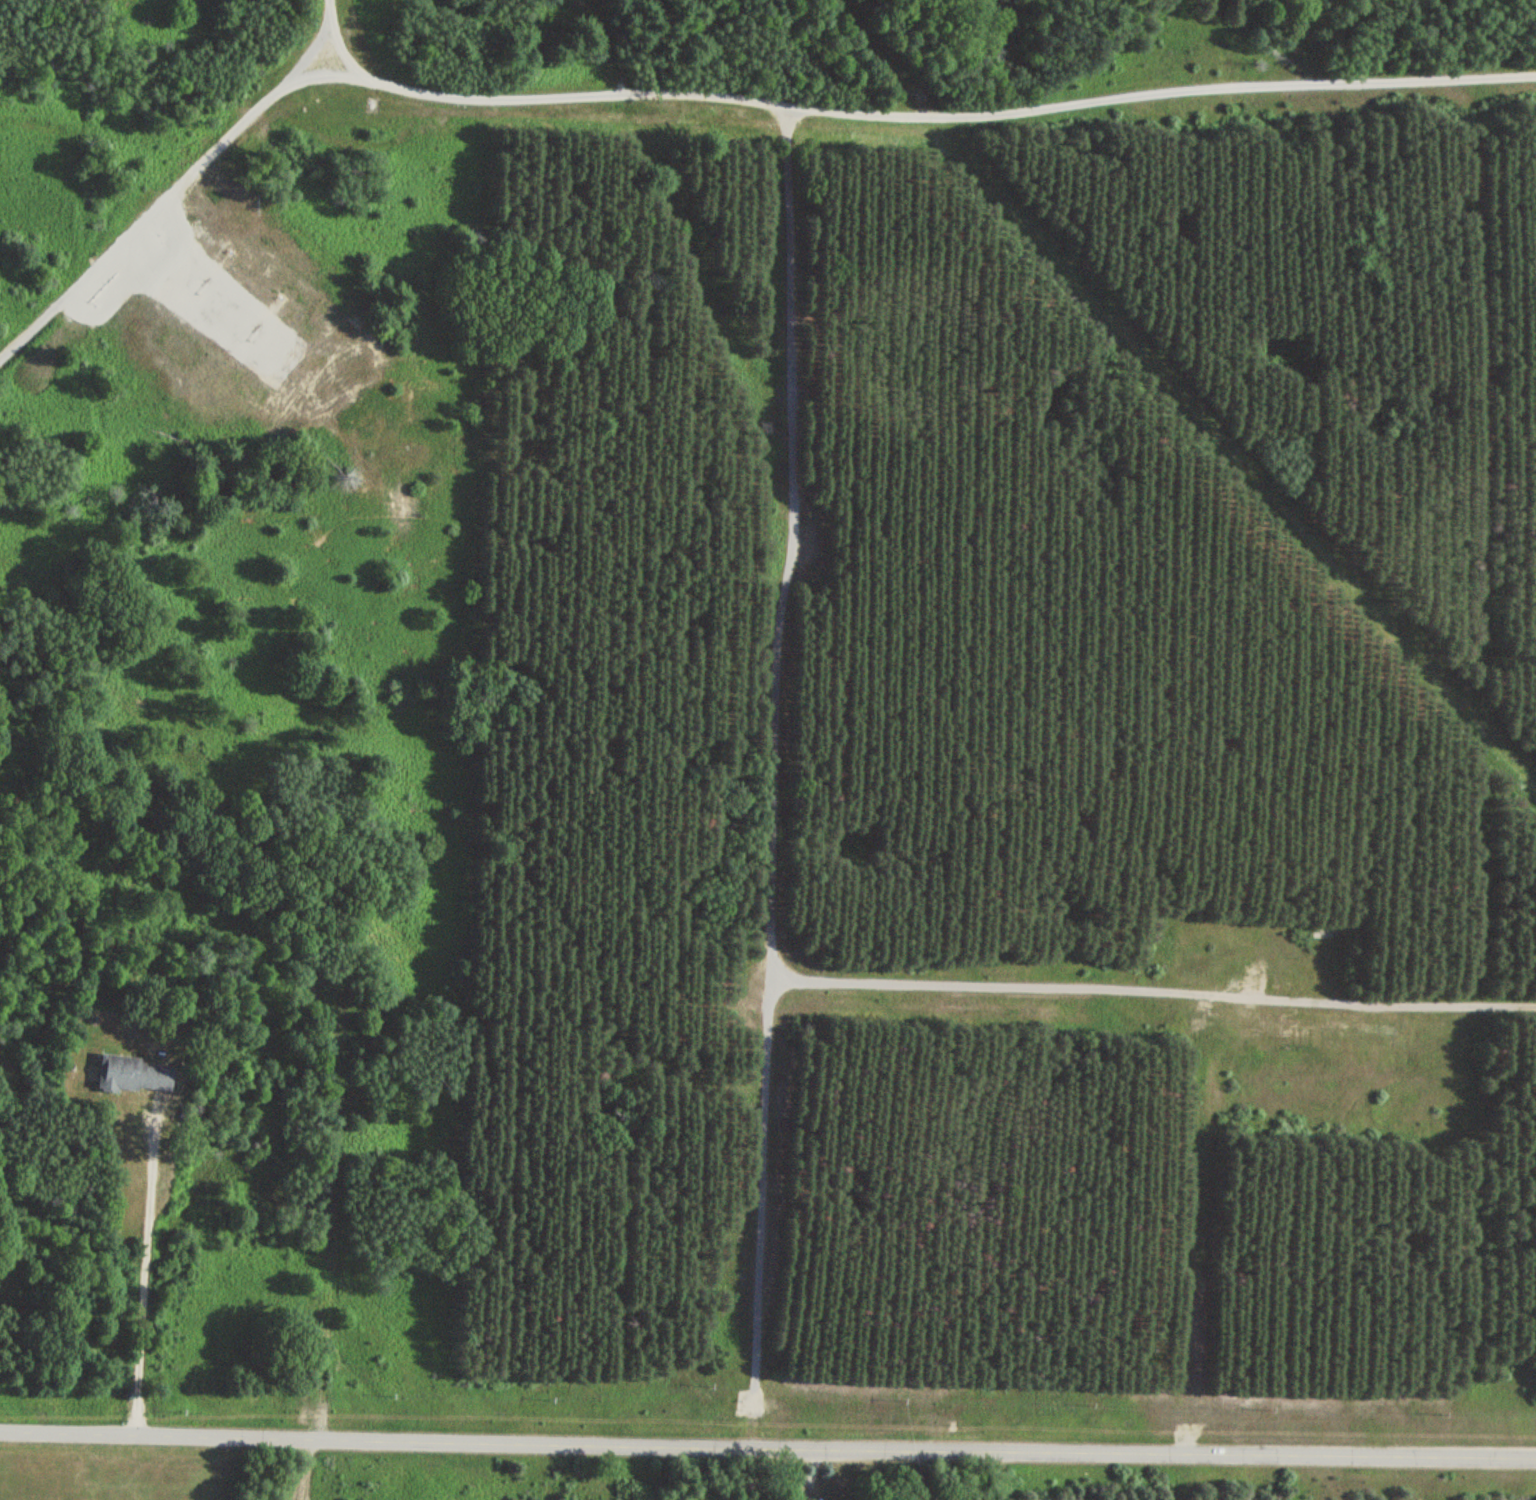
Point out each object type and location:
road: (879, 112)
road: (149, 198)
road: (746, 776)
road: (299, 977)
road: (1135, 1009)
building: (132, 1076)
road: (1161, 1235)
road: (141, 1277)
road: (767, 1447)
road: (300, 1470)

